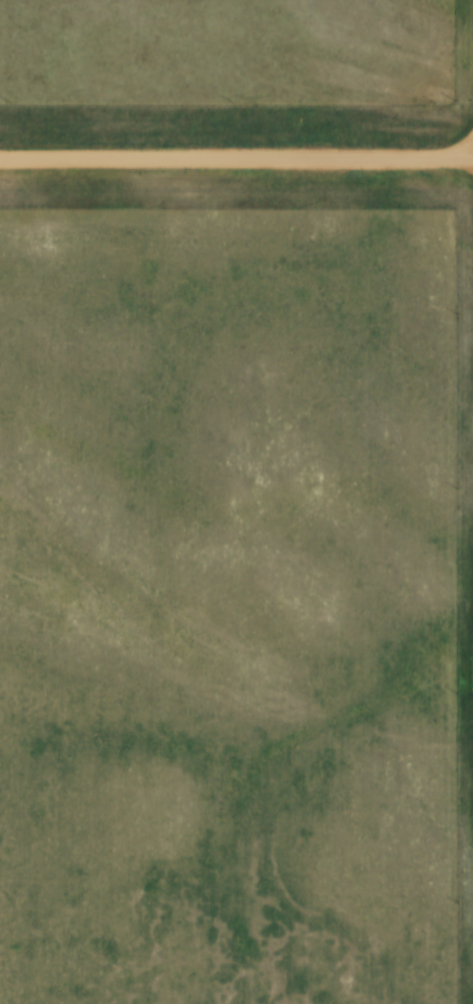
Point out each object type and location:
road: (236, 160)

